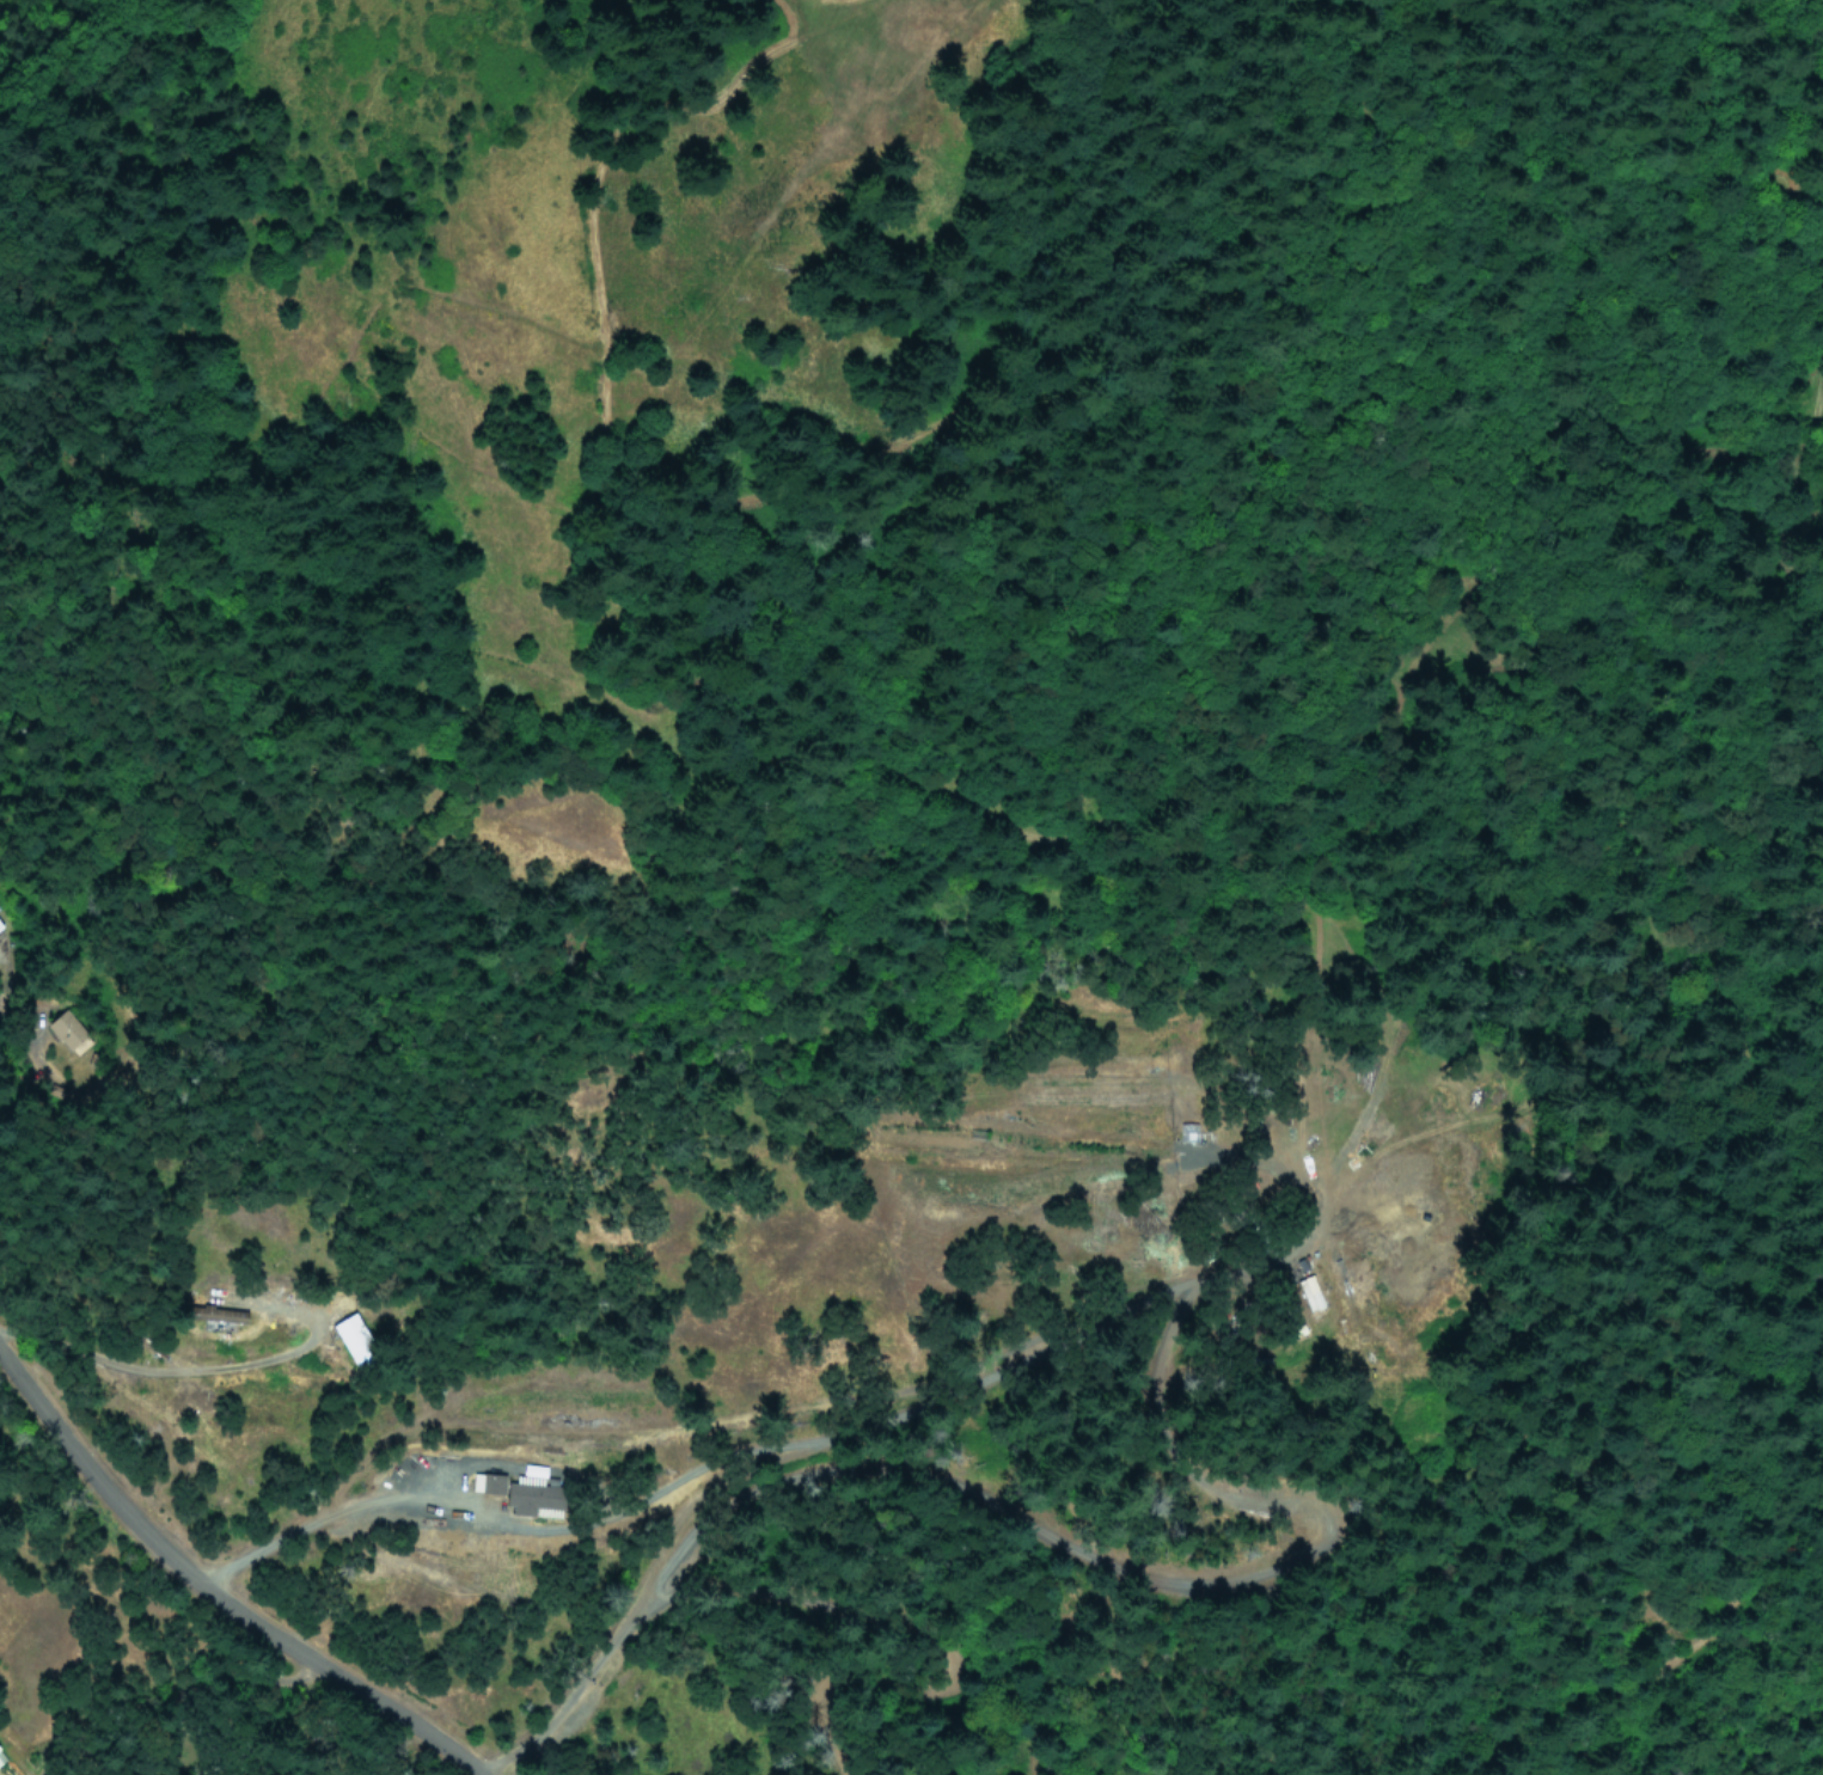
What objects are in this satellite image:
building: (1, 920)
building: (67, 1033)
building: (214, 1316)
building: (355, 1341)
building: (525, 1496)
road: (209, 1591)
building: (1, 1756)
building: (1, 1761)

